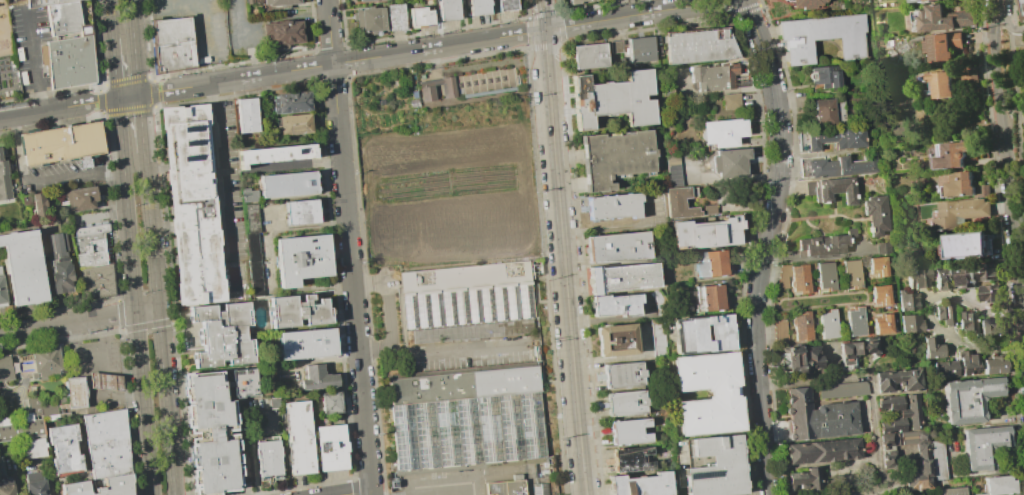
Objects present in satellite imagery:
building: (366, 0)
building: (912, 0)
building: (925, 0)
building: (931, 0)
building: (573, 2)
building: (46, 3)
building: (283, 3)
building: (804, 4)
building: (506, 5)
building: (1023, 5)
building: (477, 7)
road: (996, 7)
building: (448, 10)
building: (396, 17)
building: (420, 17)
building: (940, 18)
road: (110, 20)
building: (369, 20)
road: (1003, 21)
parking lot: (200, 25)
road: (1017, 29)
road: (101, 30)
road: (84, 33)
building: (287, 33)
building: (822, 36)
road: (54, 37)
road: (208, 42)
road: (248, 42)
building: (174, 44)
parking lot: (29, 46)
building: (69, 46)
building: (698, 46)
building: (943, 46)
road: (133, 47)
building: (640, 49)
building: (589, 57)
road: (361, 60)
road: (33, 64)
road: (114, 69)
building: (970, 75)
building: (824, 76)
building: (717, 77)
building: (472, 84)
building: (942, 84)
road: (1016, 98)
building: (614, 100)
building: (729, 101)
building: (294, 103)
road: (1014, 110)
building: (822, 112)
building: (251, 116)
road: (1007, 120)
road: (140, 123)
building: (298, 126)
rooftop solar panel: (191, 127)
building: (721, 132)
building: (835, 138)
rooftop solar panel: (193, 142)
building: (64, 145)
building: (276, 155)
building: (952, 155)
building: (614, 157)
road: (1005, 158)
rooftop solar panel: (196, 159)
building: (728, 162)
building: (842, 166)
building: (803, 168)
road: (222, 172)
parking lot: (61, 177)
building: (4, 179)
road: (43, 181)
building: (945, 184)
building: (960, 184)
building: (291, 185)
crop: (452, 188)
building: (830, 190)
building: (679, 193)
building: (248, 195)
building: (86, 199)
building: (43, 205)
building: (197, 205)
building: (612, 207)
building: (961, 211)
building: (304, 212)
building: (874, 214)
road: (620, 228)
building: (92, 229)
rooftop solar panel: (696, 233)
building: (704, 233)
building: (251, 235)
building: (827, 243)
road: (764, 244)
building: (118, 246)
building: (966, 246)
road: (348, 247)
road: (564, 247)
building: (616, 247)
building: (882, 248)
building: (91, 250)
building: (305, 259)
building: (710, 263)
building: (59, 264)
building: (24, 266)
building: (877, 266)
building: (851, 273)
building: (986, 273)
building: (825, 276)
building: (783, 277)
building: (964, 277)
building: (799, 278)
building: (916, 278)
building: (942, 278)
building: (624, 279)
building: (98, 282)
building: (2, 290)
building: (989, 293)
building: (469, 294)
building: (880, 294)
road: (135, 296)
building: (711, 297)
road: (867, 297)
road: (1023, 301)
building: (907, 302)
road: (767, 305)
building: (616, 306)
road: (147, 310)
road: (1023, 311)
building: (300, 312)
road: (387, 313)
road: (929, 314)
building: (944, 314)
building: (855, 321)
building: (966, 321)
road: (68, 322)
road: (157, 323)
building: (882, 324)
building: (910, 324)
building: (827, 325)
building: (801, 327)
building: (990, 328)
building: (475, 332)
building: (779, 332)
building: (701, 334)
building: (225, 335)
building: (617, 341)
building: (309, 344)
road: (104, 346)
road: (484, 348)
building: (856, 348)
building: (931, 349)
building: (803, 358)
building: (967, 363)
building: (46, 364)
building: (995, 366)
building: (5, 369)
building: (945, 370)
building: (622, 376)
building: (320, 379)
building: (897, 381)
road: (106, 382)
building: (109, 382)
road: (816, 382)
building: (841, 389)
building: (79, 392)
building: (723, 394)
road: (123, 395)
building: (968, 399)
building: (332, 403)
building: (625, 404)
building: (900, 412)
building: (819, 416)
building: (469, 417)
building: (30, 419)
building: (217, 427)
building: (629, 432)
building: (301, 438)
building: (889, 439)
building: (110, 444)
building: (982, 445)
building: (31, 448)
building: (333, 448)
building: (65, 449)
building: (822, 451)
road: (879, 458)
building: (888, 458)
building: (269, 459)
building: (633, 459)
building: (937, 460)
building: (1, 467)
building: (715, 467)
building: (919, 470)
building: (805, 479)
building: (120, 483)
building: (34, 484)
building: (640, 484)
building: (997, 485)
building: (6, 488)
building: (505, 488)
building: (543, 489)
road: (442, 490)
building: (950, 491)
road: (354, 492)
road: (374, 493)

